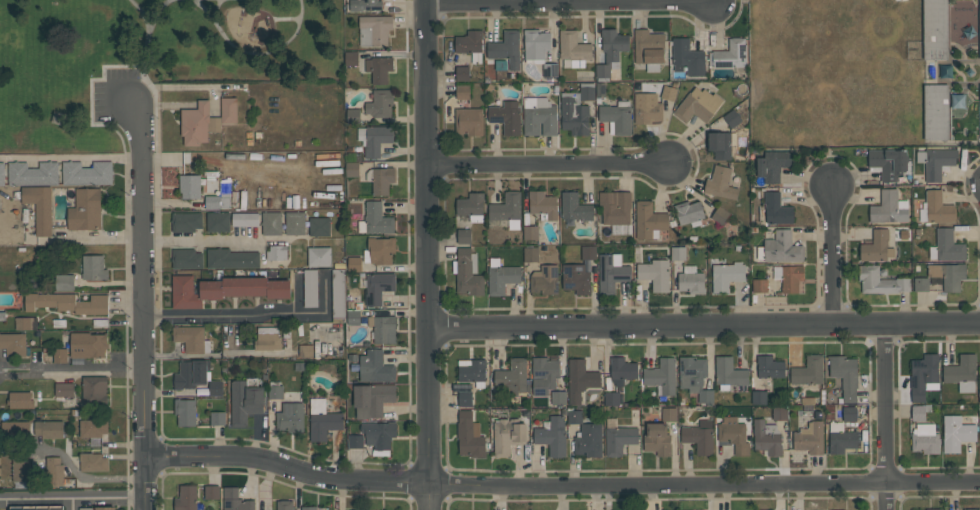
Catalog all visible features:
road: (538, 1)
building: (365, 5)
road: (143, 11)
road: (211, 16)
building: (979, 19)
building: (374, 30)
building: (935, 30)
road: (148, 36)
building: (470, 44)
building: (536, 45)
building: (506, 48)
building: (573, 49)
building: (649, 49)
road: (267, 51)
building: (611, 51)
building: (729, 54)
building: (687, 57)
park: (150, 58)
building: (351, 59)
building: (379, 68)
building: (550, 69)
building: (462, 73)
building: (587, 91)
building: (463, 92)
building: (669, 93)
traffic signals: (131, 100)
building: (380, 104)
building: (698, 105)
building: (647, 108)
building: (228, 110)
building: (936, 112)
building: (574, 113)
building: (506, 116)
building: (353, 117)
building: (539, 117)
building: (616, 117)
building: (732, 118)
building: (469, 121)
building: (198, 124)
building: (979, 133)
building: (374, 139)
building: (720, 145)
road: (73, 156)
building: (936, 162)
building: (887, 163)
road: (549, 164)
building: (773, 165)
building: (352, 169)
building: (2, 173)
building: (87, 173)
building: (32, 174)
building: (382, 180)
building: (720, 183)
building: (189, 186)
building: (219, 197)
building: (543, 204)
building: (471, 206)
building: (40, 207)
building: (575, 207)
building: (615, 207)
building: (938, 207)
building: (888, 208)
building: (776, 209)
building: (85, 210)
building: (507, 210)
building: (689, 213)
building: (720, 215)
building: (245, 219)
building: (375, 219)
building: (649, 220)
building: (218, 221)
building: (186, 222)
building: (271, 223)
building: (295, 223)
building: (319, 226)
building: (530, 233)
building: (464, 236)
road: (161, 239)
building: (877, 246)
building: (946, 246)
building: (780, 248)
building: (379, 250)
building: (277, 252)
building: (588, 252)
building: (678, 253)
road: (432, 254)
building: (530, 254)
building: (319, 256)
road: (830, 257)
building: (231, 258)
building: (186, 259)
building: (354, 264)
building: (94, 267)
building: (467, 272)
building: (611, 273)
building: (655, 274)
building: (948, 274)
building: (727, 275)
building: (501, 276)
building: (576, 278)
building: (791, 278)
building: (544, 280)
building: (691, 280)
building: (880, 281)
building: (65, 282)
building: (921, 284)
building: (760, 286)
building: (310, 288)
building: (378, 288)
building: (224, 289)
building: (338, 295)
building: (66, 303)
road: (146, 303)
road: (236, 315)
building: (353, 317)
building: (25, 323)
road: (706, 326)
building: (383, 328)
building: (191, 338)
building: (267, 338)
building: (13, 343)
building: (87, 345)
building: (306, 351)
road: (222, 354)
building: (60, 355)
road: (73, 367)
building: (375, 367)
building: (770, 367)
building: (472, 370)
building: (621, 370)
building: (808, 371)
building: (962, 372)
building: (728, 373)
building: (192, 374)
building: (544, 375)
building: (845, 375)
building: (923, 375)
building: (662, 376)
building: (513, 377)
building: (695, 377)
building: (580, 380)
building: (215, 388)
building: (64, 389)
building: (94, 389)
building: (276, 392)
building: (759, 397)
building: (559, 398)
building: (612, 398)
building: (372, 399)
building: (465, 399)
building: (20, 400)
building: (245, 400)
building: (185, 412)
building: (920, 412)
building: (779, 413)
building: (669, 414)
building: (849, 414)
building: (574, 416)
building: (290, 417)
building: (217, 418)
road: (885, 418)
building: (323, 420)
building: (93, 428)
building: (15, 429)
building: (49, 429)
building: (956, 433)
building: (379, 434)
building: (733, 434)
building: (470, 435)
building: (508, 435)
building: (552, 436)
building: (699, 436)
building: (618, 437)
building: (767, 438)
building: (810, 438)
building: (841, 438)
building: (657, 439)
building: (925, 439)
building: (589, 440)
building: (355, 441)
building: (93, 462)
building: (20, 470)
building: (54, 471)
road: (562, 484)
building: (211, 492)
road: (74, 497)
building: (186, 498)
building: (235, 500)
building: (284, 505)
building: (105, 508)
building: (309, 508)
building: (36, 509)
building: (970, 509)

